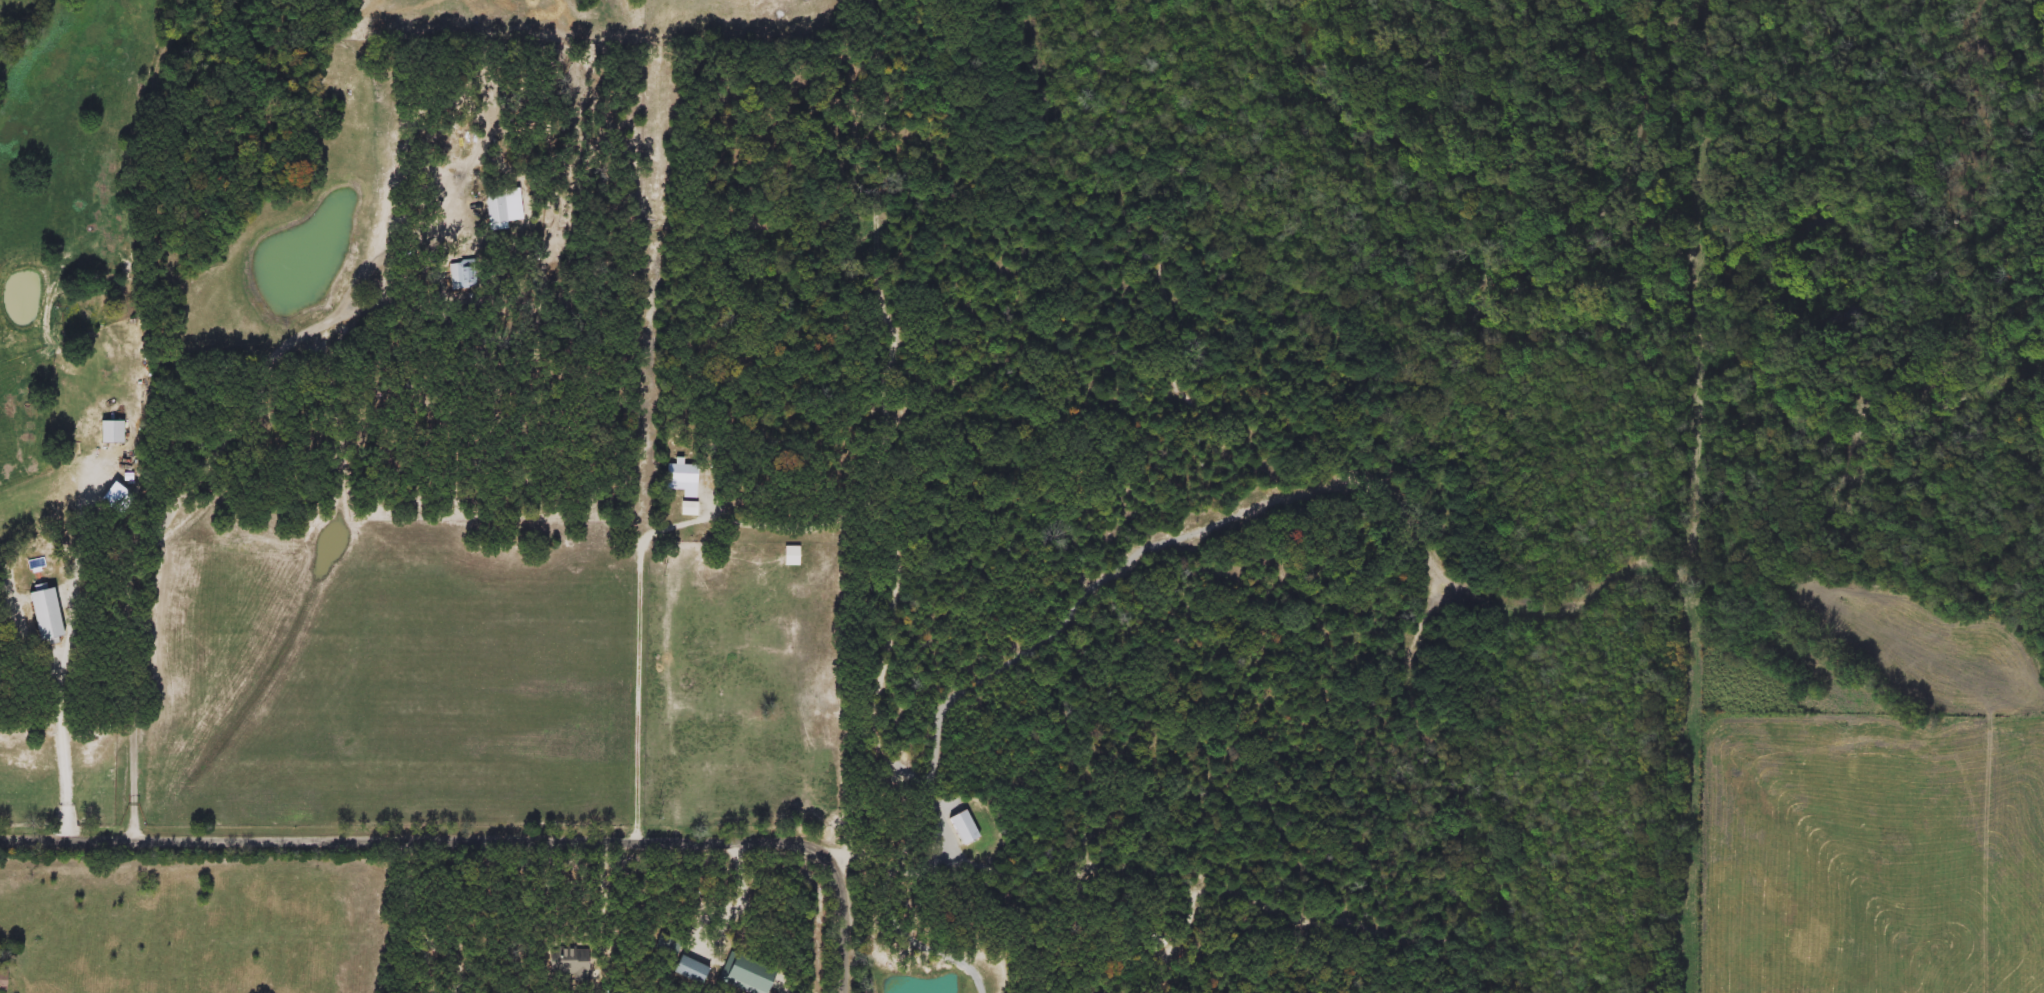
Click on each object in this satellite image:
building: (501, 207)
building: (467, 273)
road: (236, 431)
building: (112, 432)
building: (682, 473)
building: (44, 613)
road: (71, 646)
building: (690, 649)
road: (638, 655)
building: (724, 722)
building: (963, 827)
road: (485, 836)
road: (742, 895)
road: (419, 927)
building: (1157, 941)
building: (568, 963)
building: (690, 969)
building: (3, 980)

